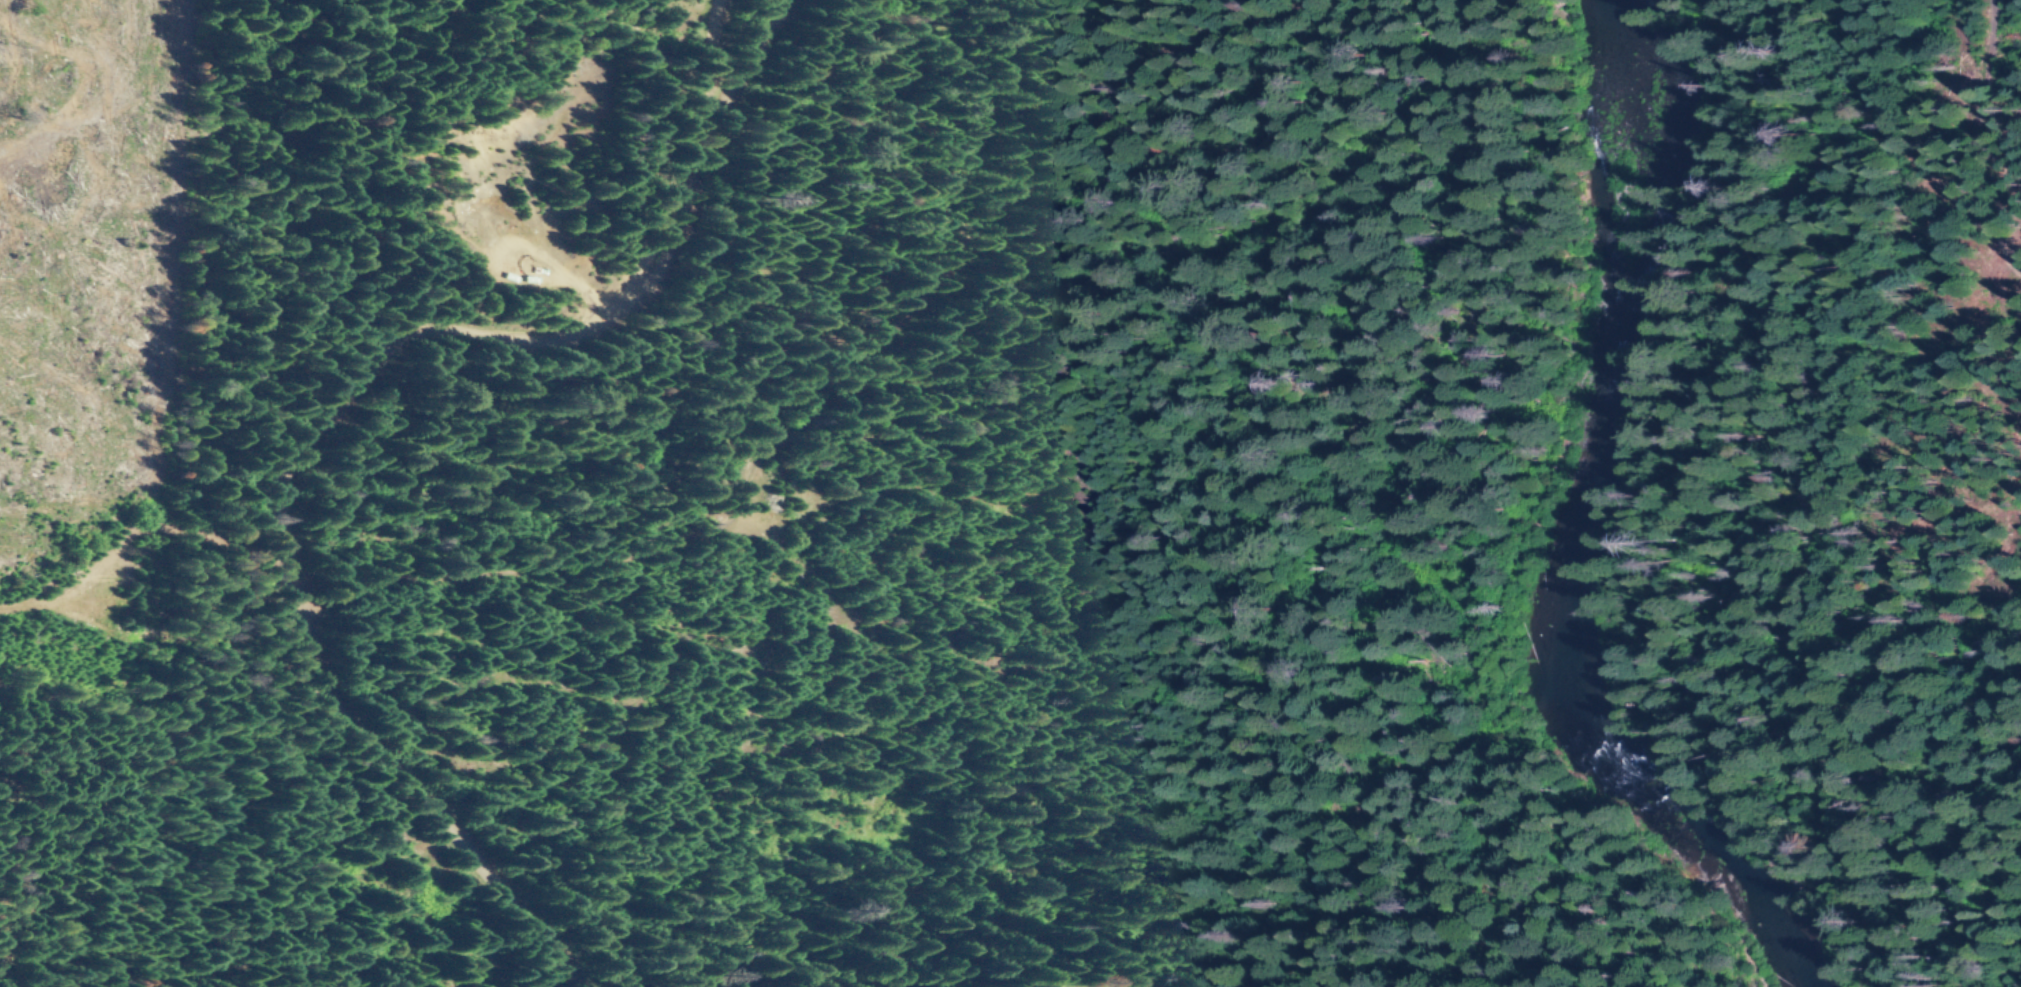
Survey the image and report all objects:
road: (686, 121)
road: (1911, 159)
road: (307, 416)
road: (129, 532)
river: (1585, 536)

